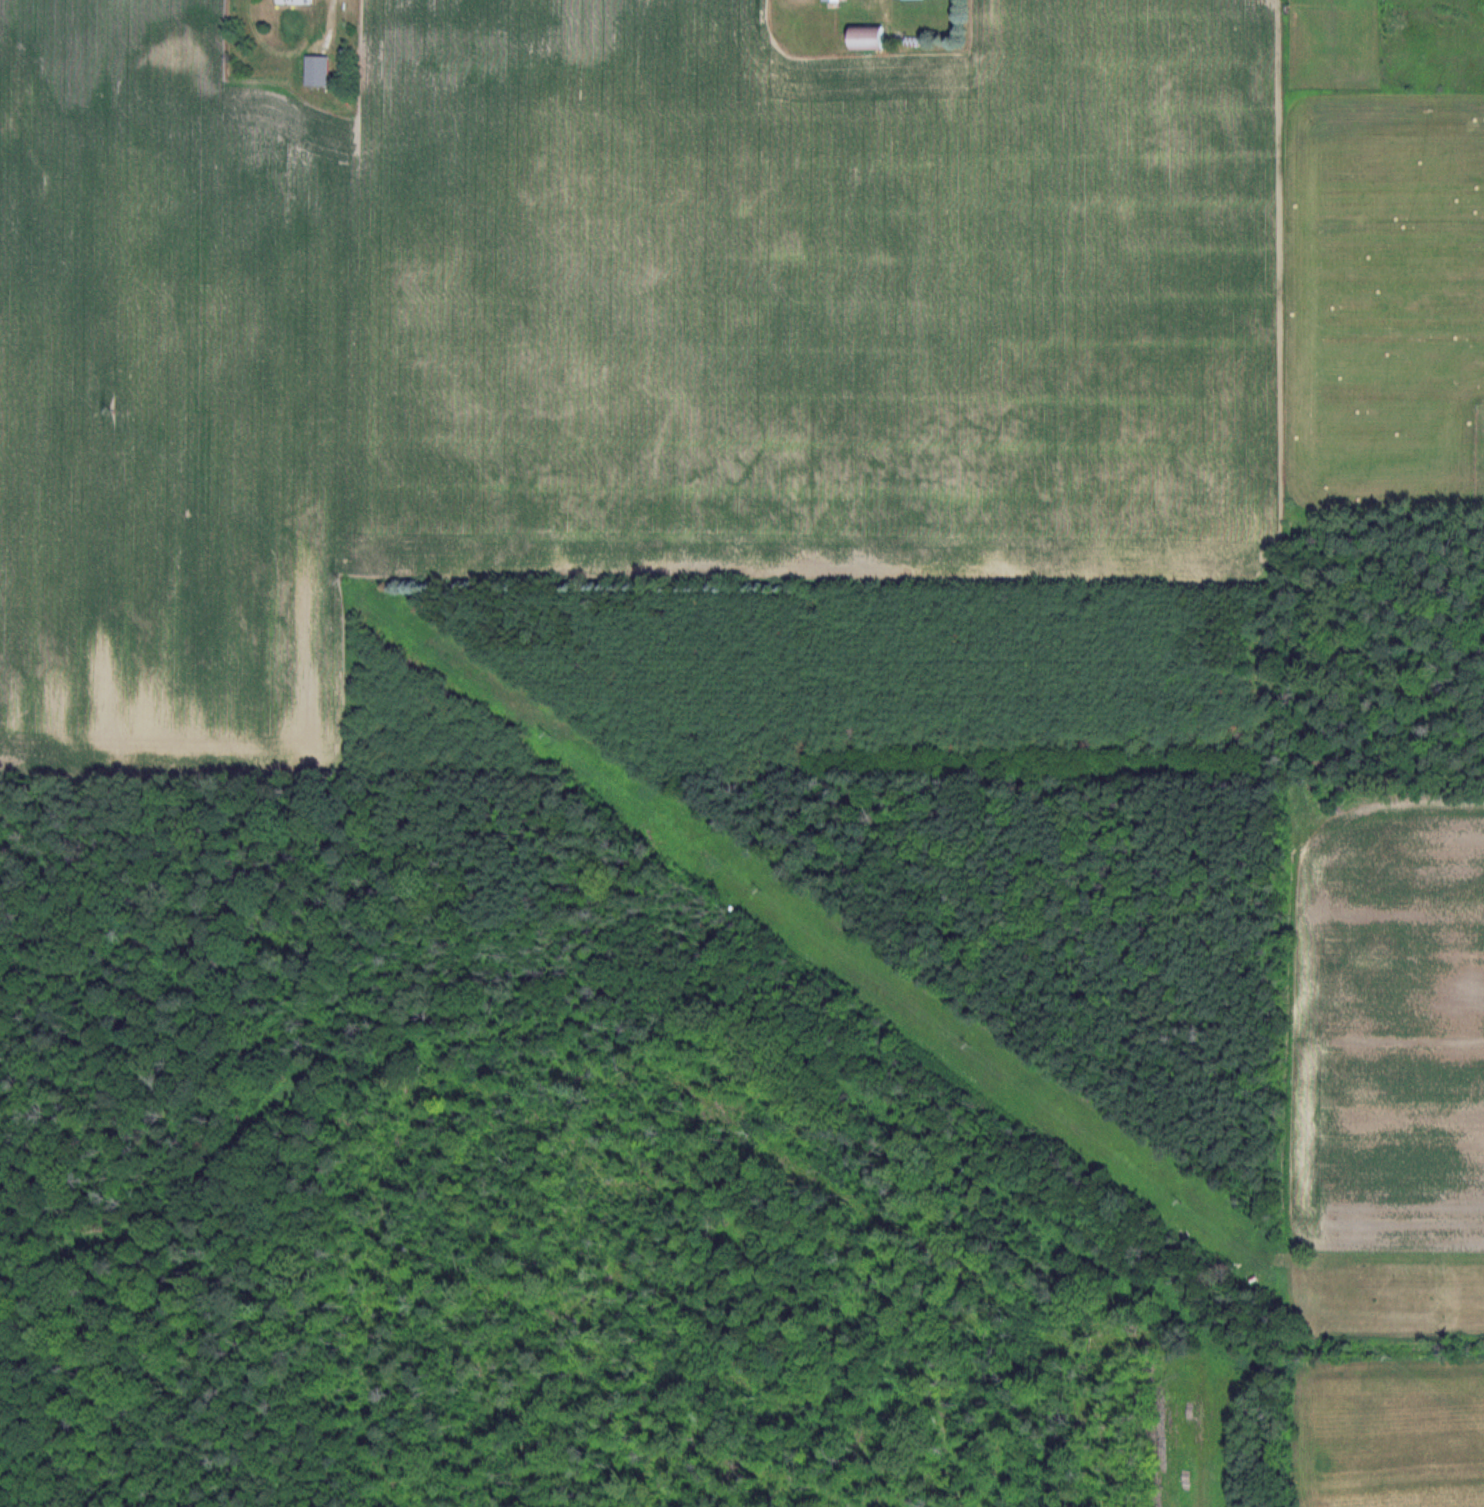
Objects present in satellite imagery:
building: (320, 72)

